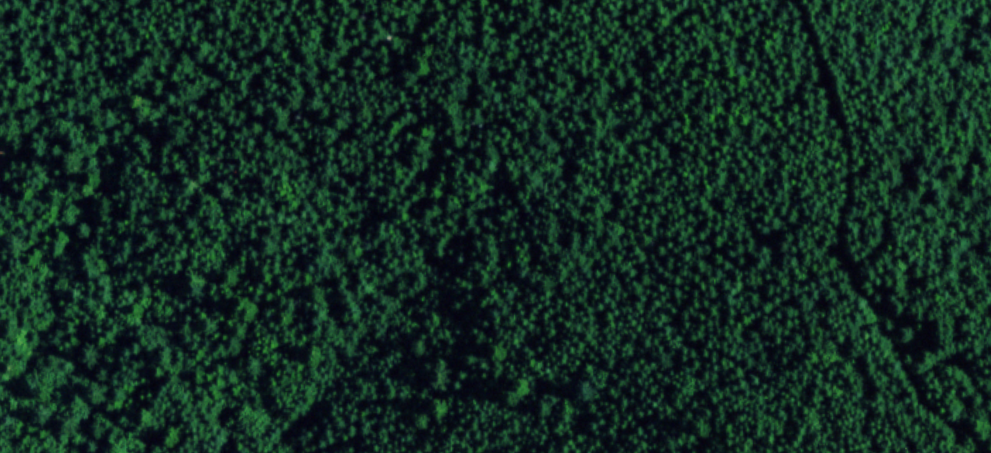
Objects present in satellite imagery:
road: (851, 238)

